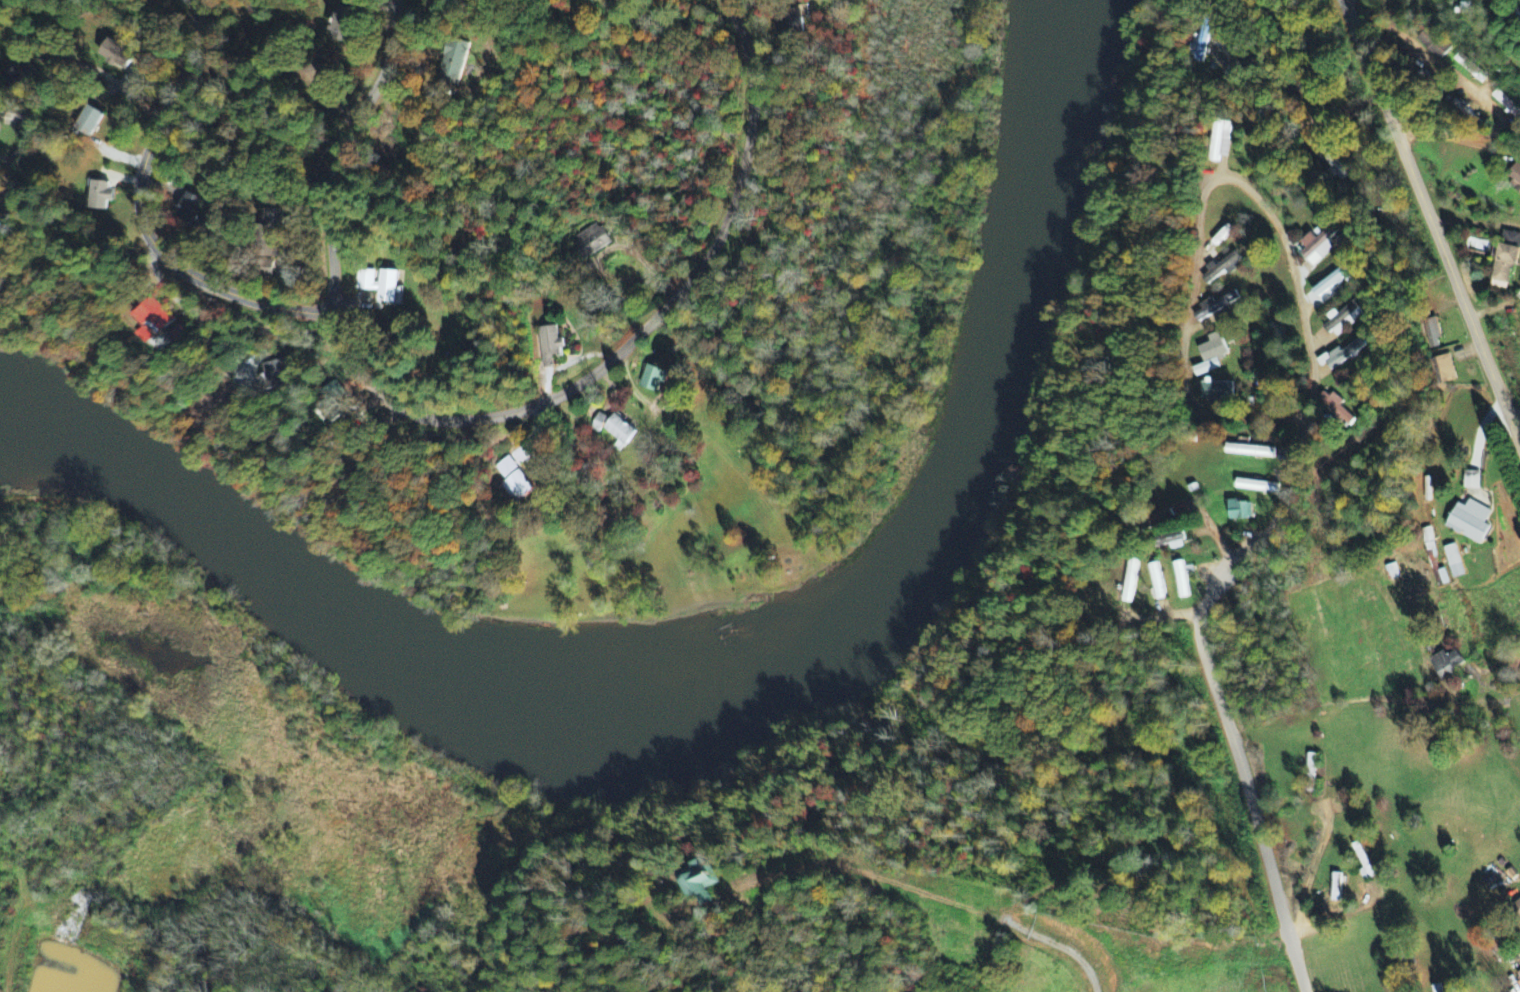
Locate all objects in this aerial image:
building: (342, 21)
building: (1201, 45)
building: (1432, 45)
building: (114, 54)
building: (453, 61)
road: (55, 74)
building: (20, 75)
building: (1506, 106)
building: (87, 121)
building: (1220, 140)
road: (1453, 141)
road: (335, 151)
building: (1514, 176)
building: (98, 196)
building: (188, 209)
road: (139, 211)
road: (1430, 222)
building: (1510, 239)
building: (591, 242)
building: (1317, 247)
building: (270, 254)
building: (1502, 266)
building: (1222, 267)
building: (1330, 282)
building: (380, 285)
road: (1487, 294)
building: (1215, 306)
building: (154, 317)
building: (1344, 318)
building: (1430, 334)
road: (633, 338)
road: (1182, 343)
building: (549, 345)
building: (1210, 355)
building: (1340, 356)
road: (1311, 364)
building: (1443, 370)
building: (278, 374)
building: (652, 379)
building: (1216, 391)
building: (1335, 407)
road: (1515, 418)
building: (597, 423)
building: (619, 432)
building: (1249, 451)
river: (960, 475)
building: (514, 481)
building: (1471, 481)
building: (1255, 486)
building: (1238, 510)
river: (198, 518)
building: (1161, 519)
building: (1469, 522)
building: (1169, 541)
building: (1453, 562)
building: (1180, 580)
building: (1129, 582)
building: (1155, 582)
road: (1169, 611)
building: (1445, 665)
river: (463, 708)
road: (1242, 770)
building: (697, 881)
building: (1516, 910)
road: (1261, 928)
building: (1437, 989)

